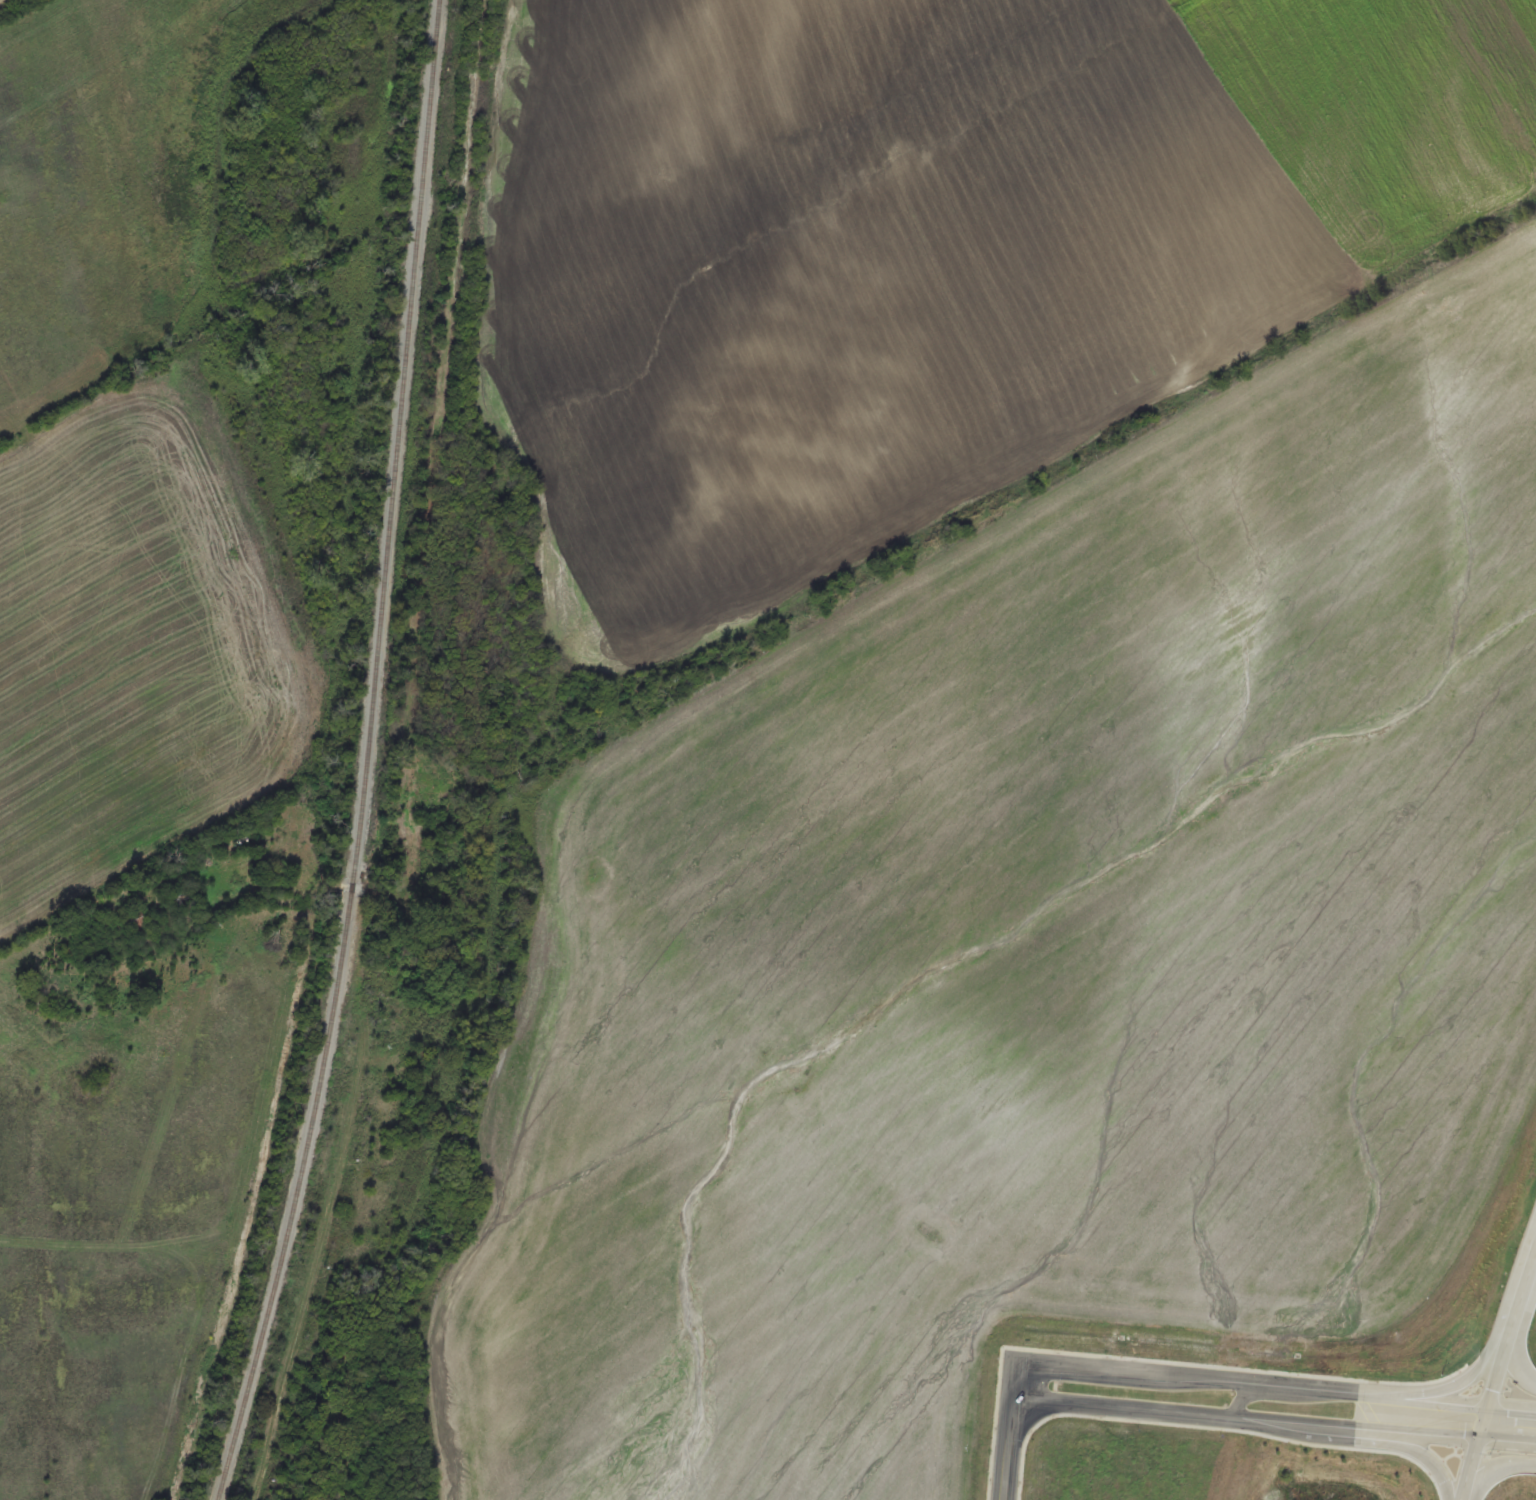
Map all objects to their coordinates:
railway: (369, 756)
building: (416, 825)
building: (278, 872)
building: (138, 929)
road: (326, 1248)
road: (1506, 1333)
road: (1515, 1339)
road: (1224, 1383)
road: (1219, 1419)
road: (1480, 1420)
road: (1013, 1438)
road: (1471, 1460)
road: (1522, 1467)
road: (1483, 1477)

